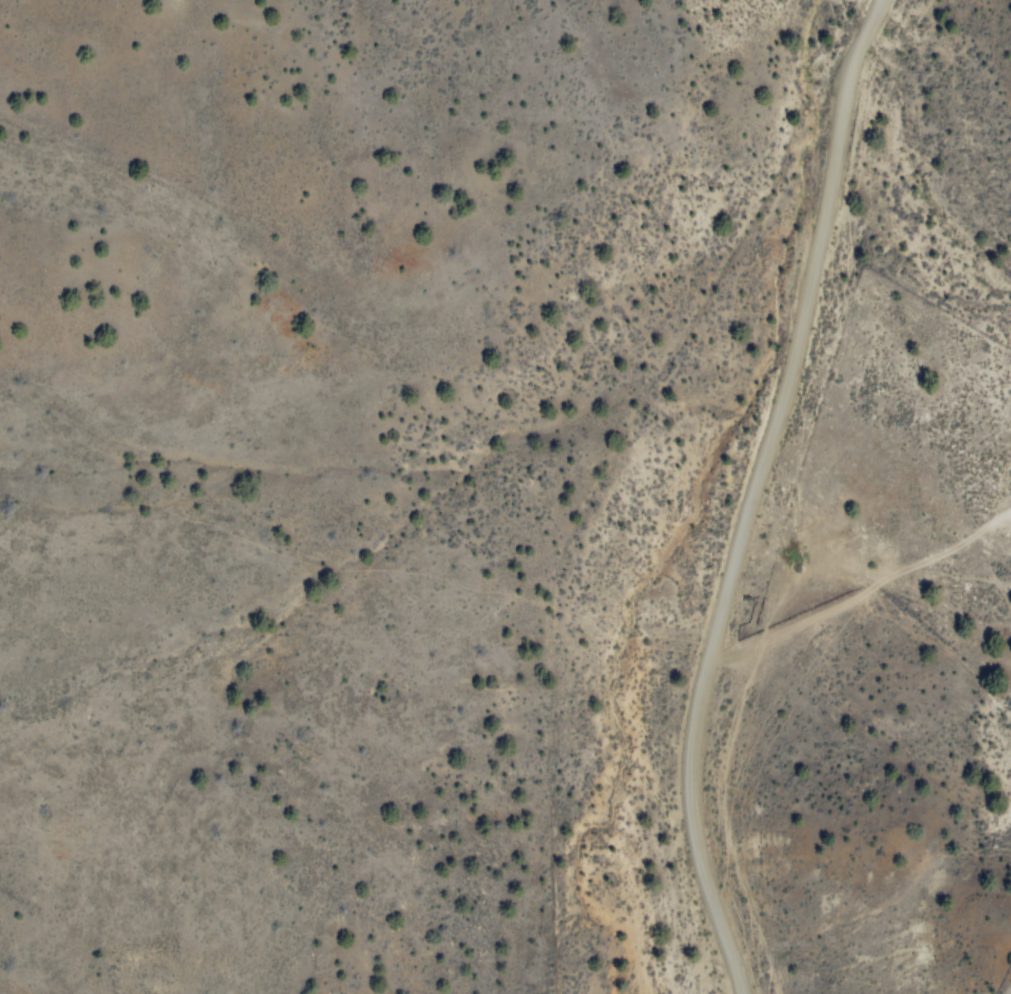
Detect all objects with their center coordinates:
road: (754, 496)
road: (860, 583)

